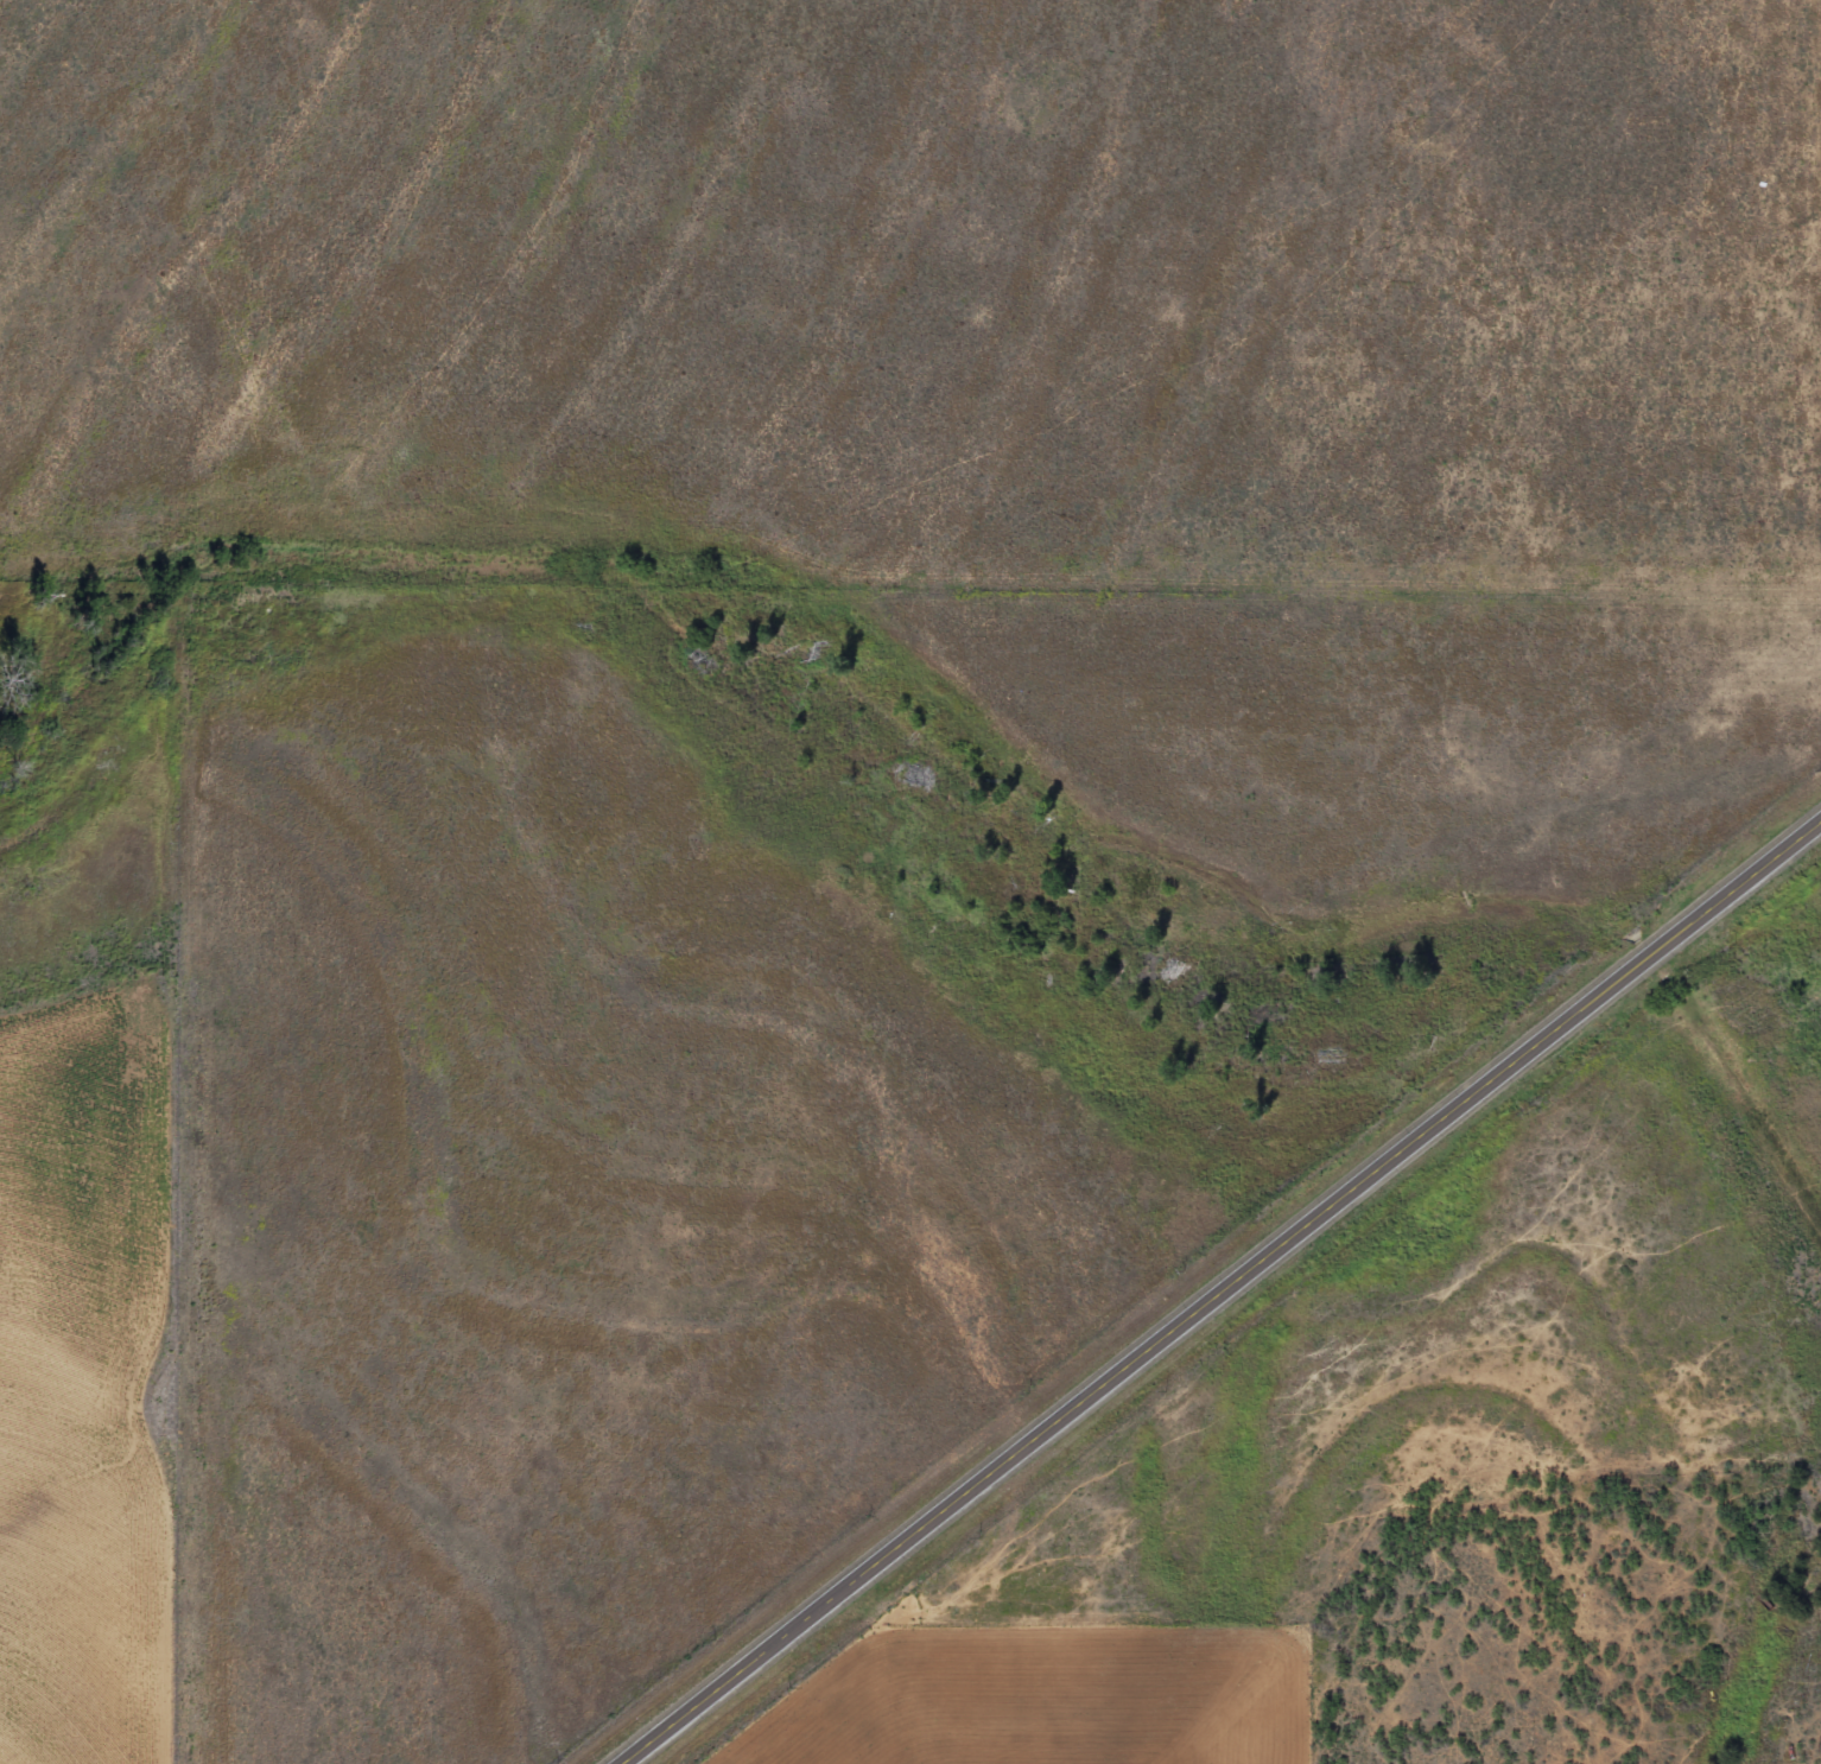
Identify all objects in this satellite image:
road: (1223, 1292)

